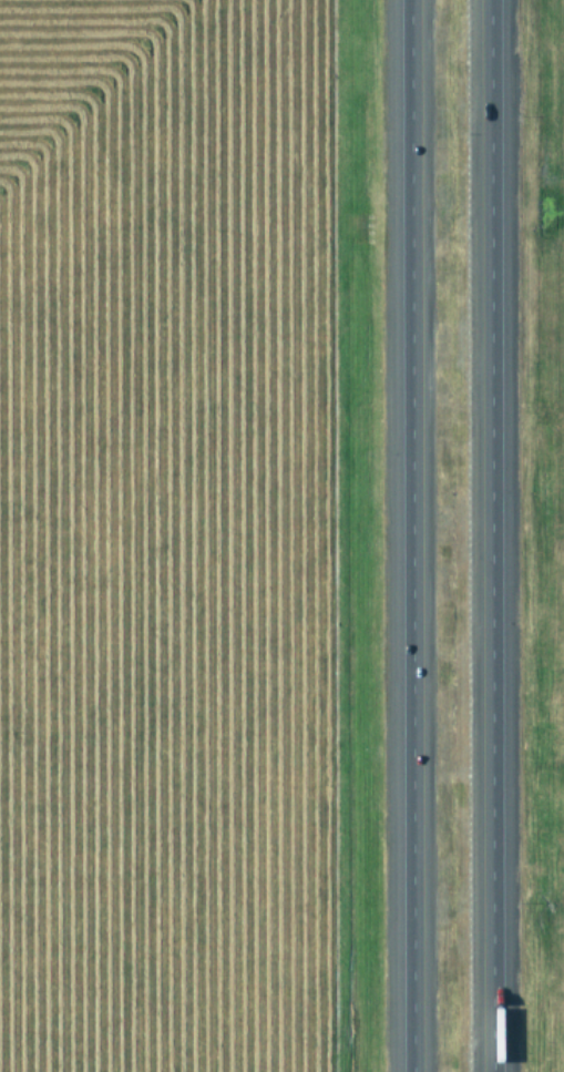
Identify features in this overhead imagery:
crop: (166, 535)
road: (425, 535)
road: (492, 535)

